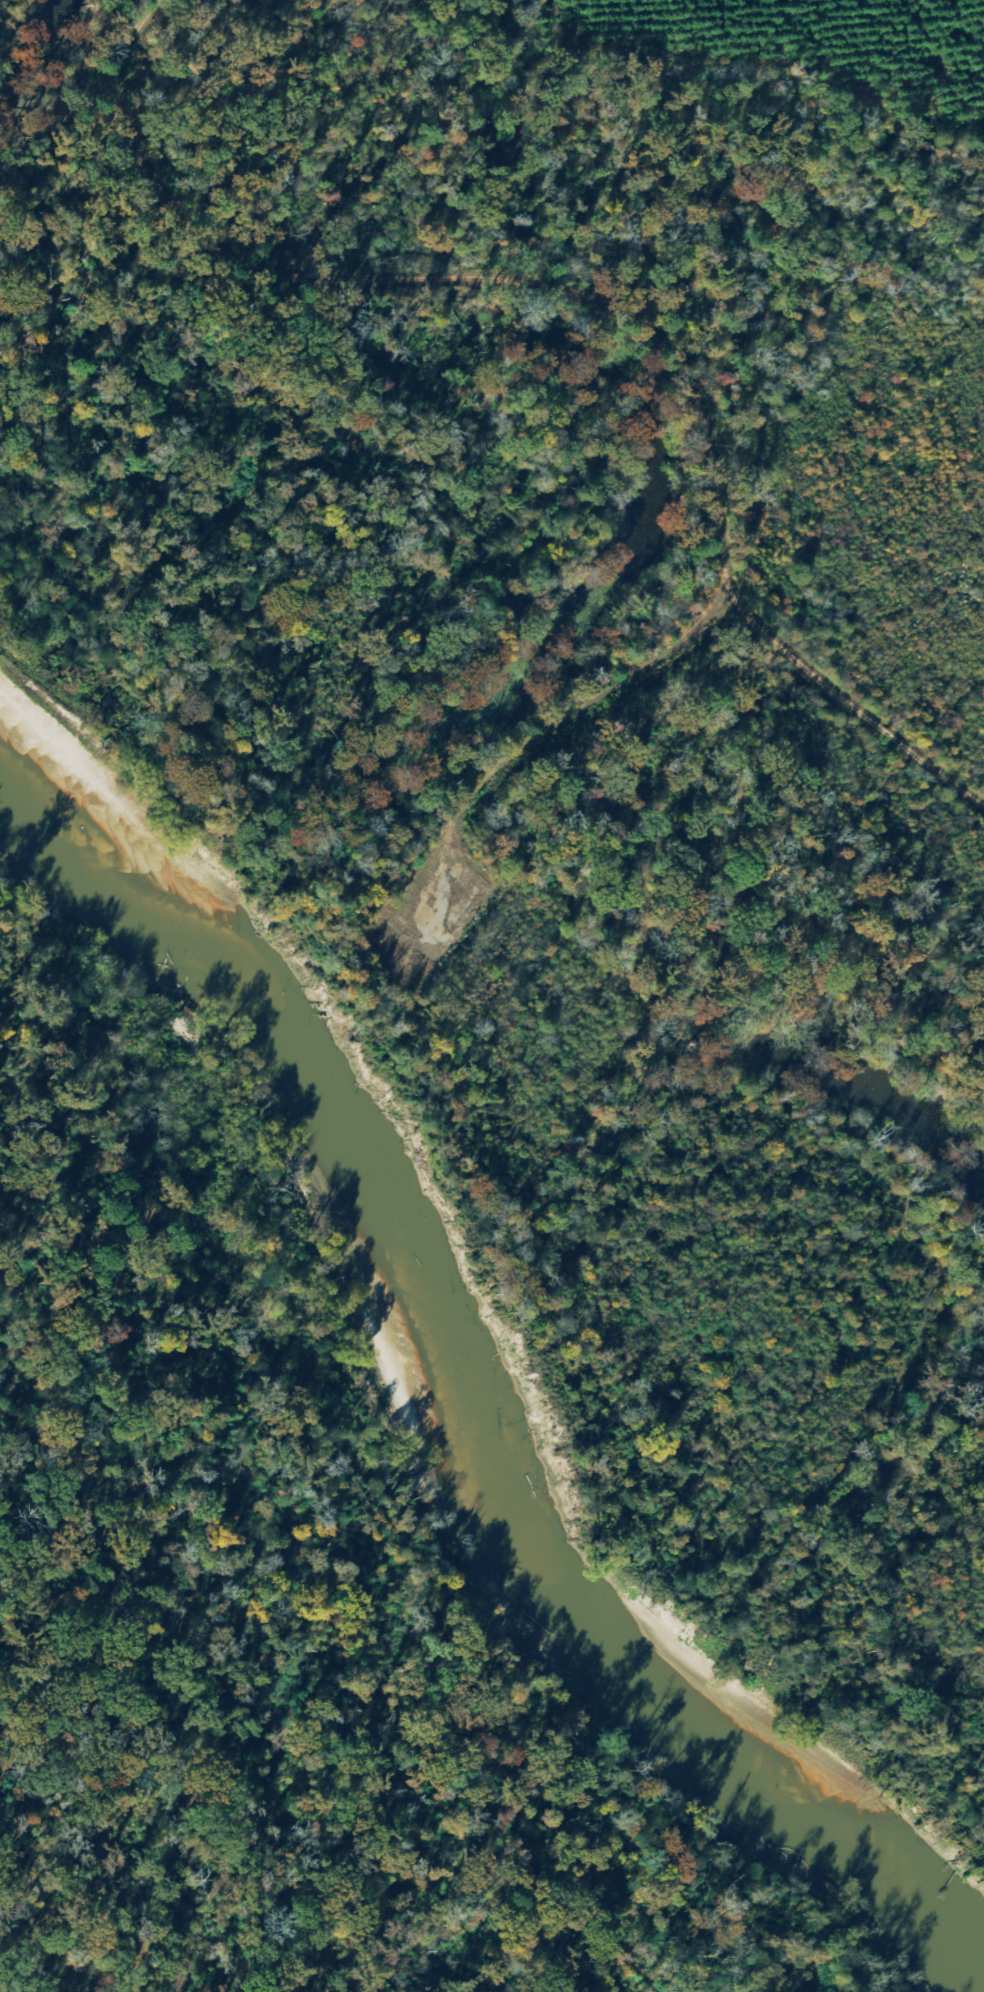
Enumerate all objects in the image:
road: (629, 305)
river: (421, 1389)

